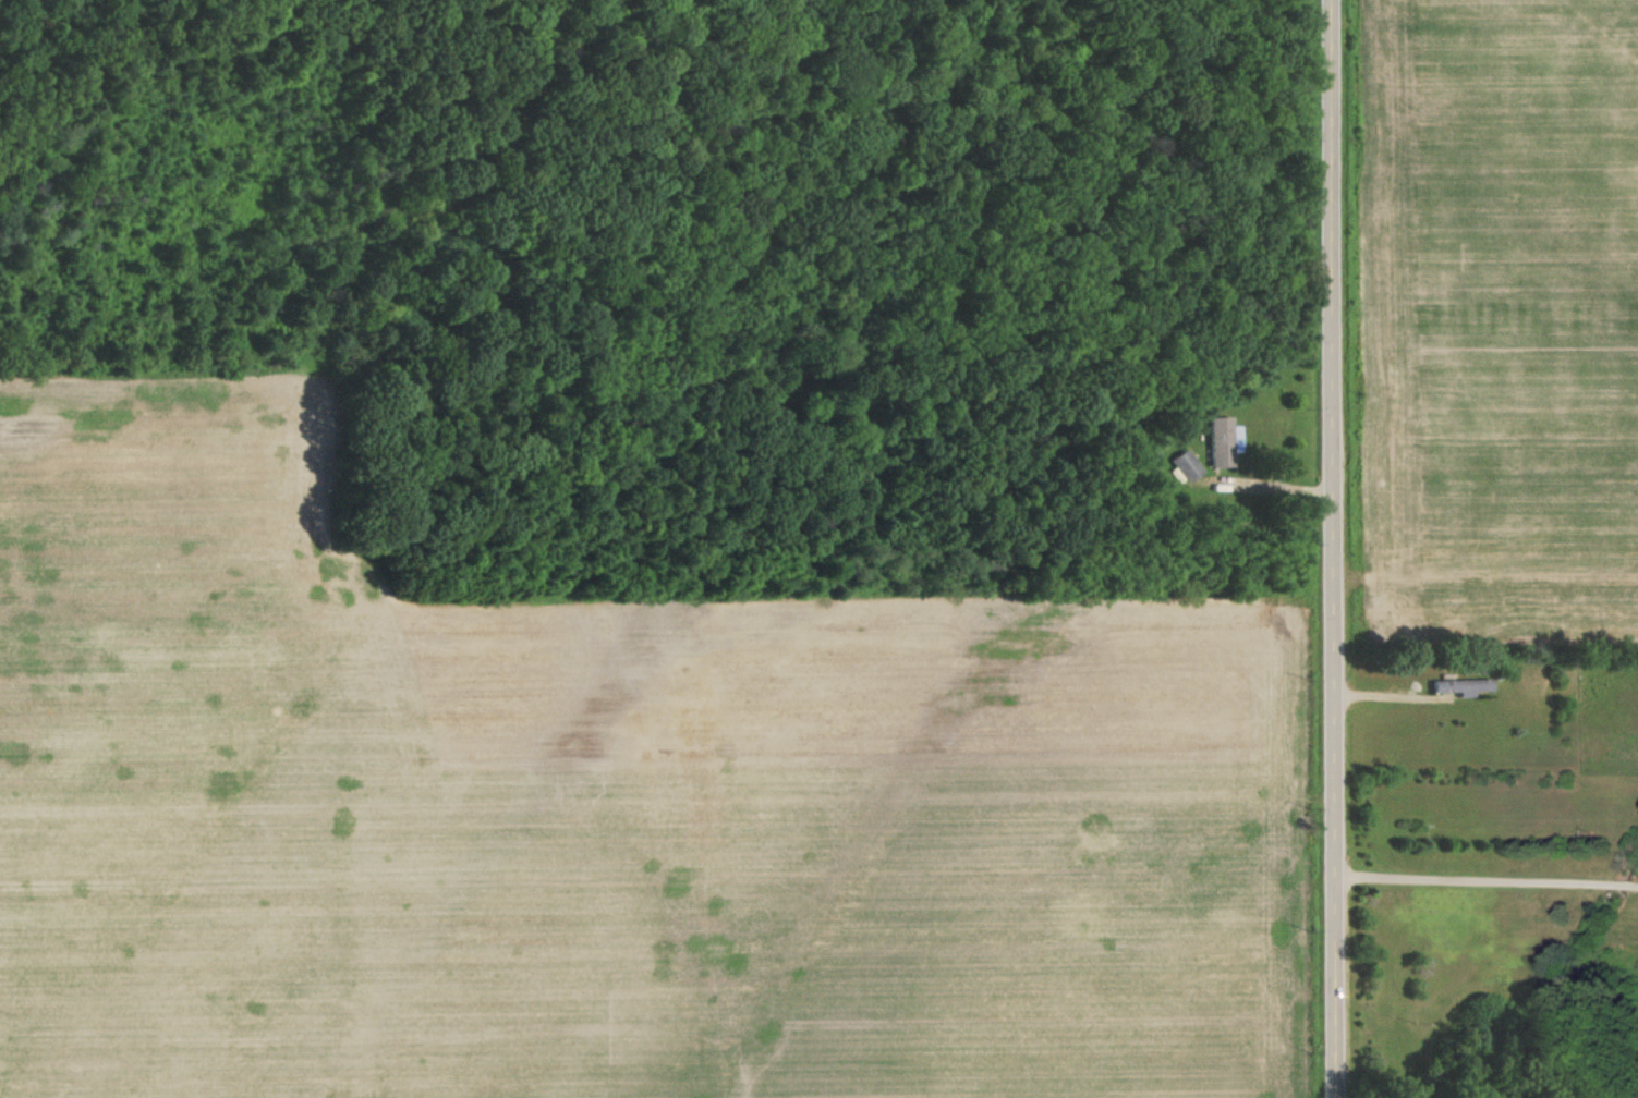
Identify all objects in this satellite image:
building: (1222, 439)
building: (1182, 465)
road: (1330, 549)
building: (1460, 686)

